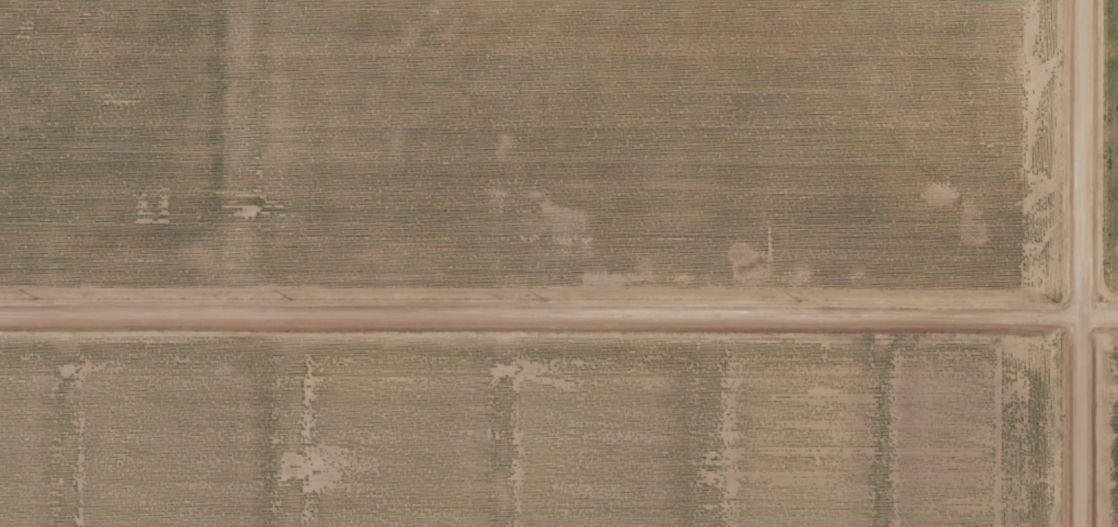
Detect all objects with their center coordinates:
road: (1094, 263)
road: (559, 283)

